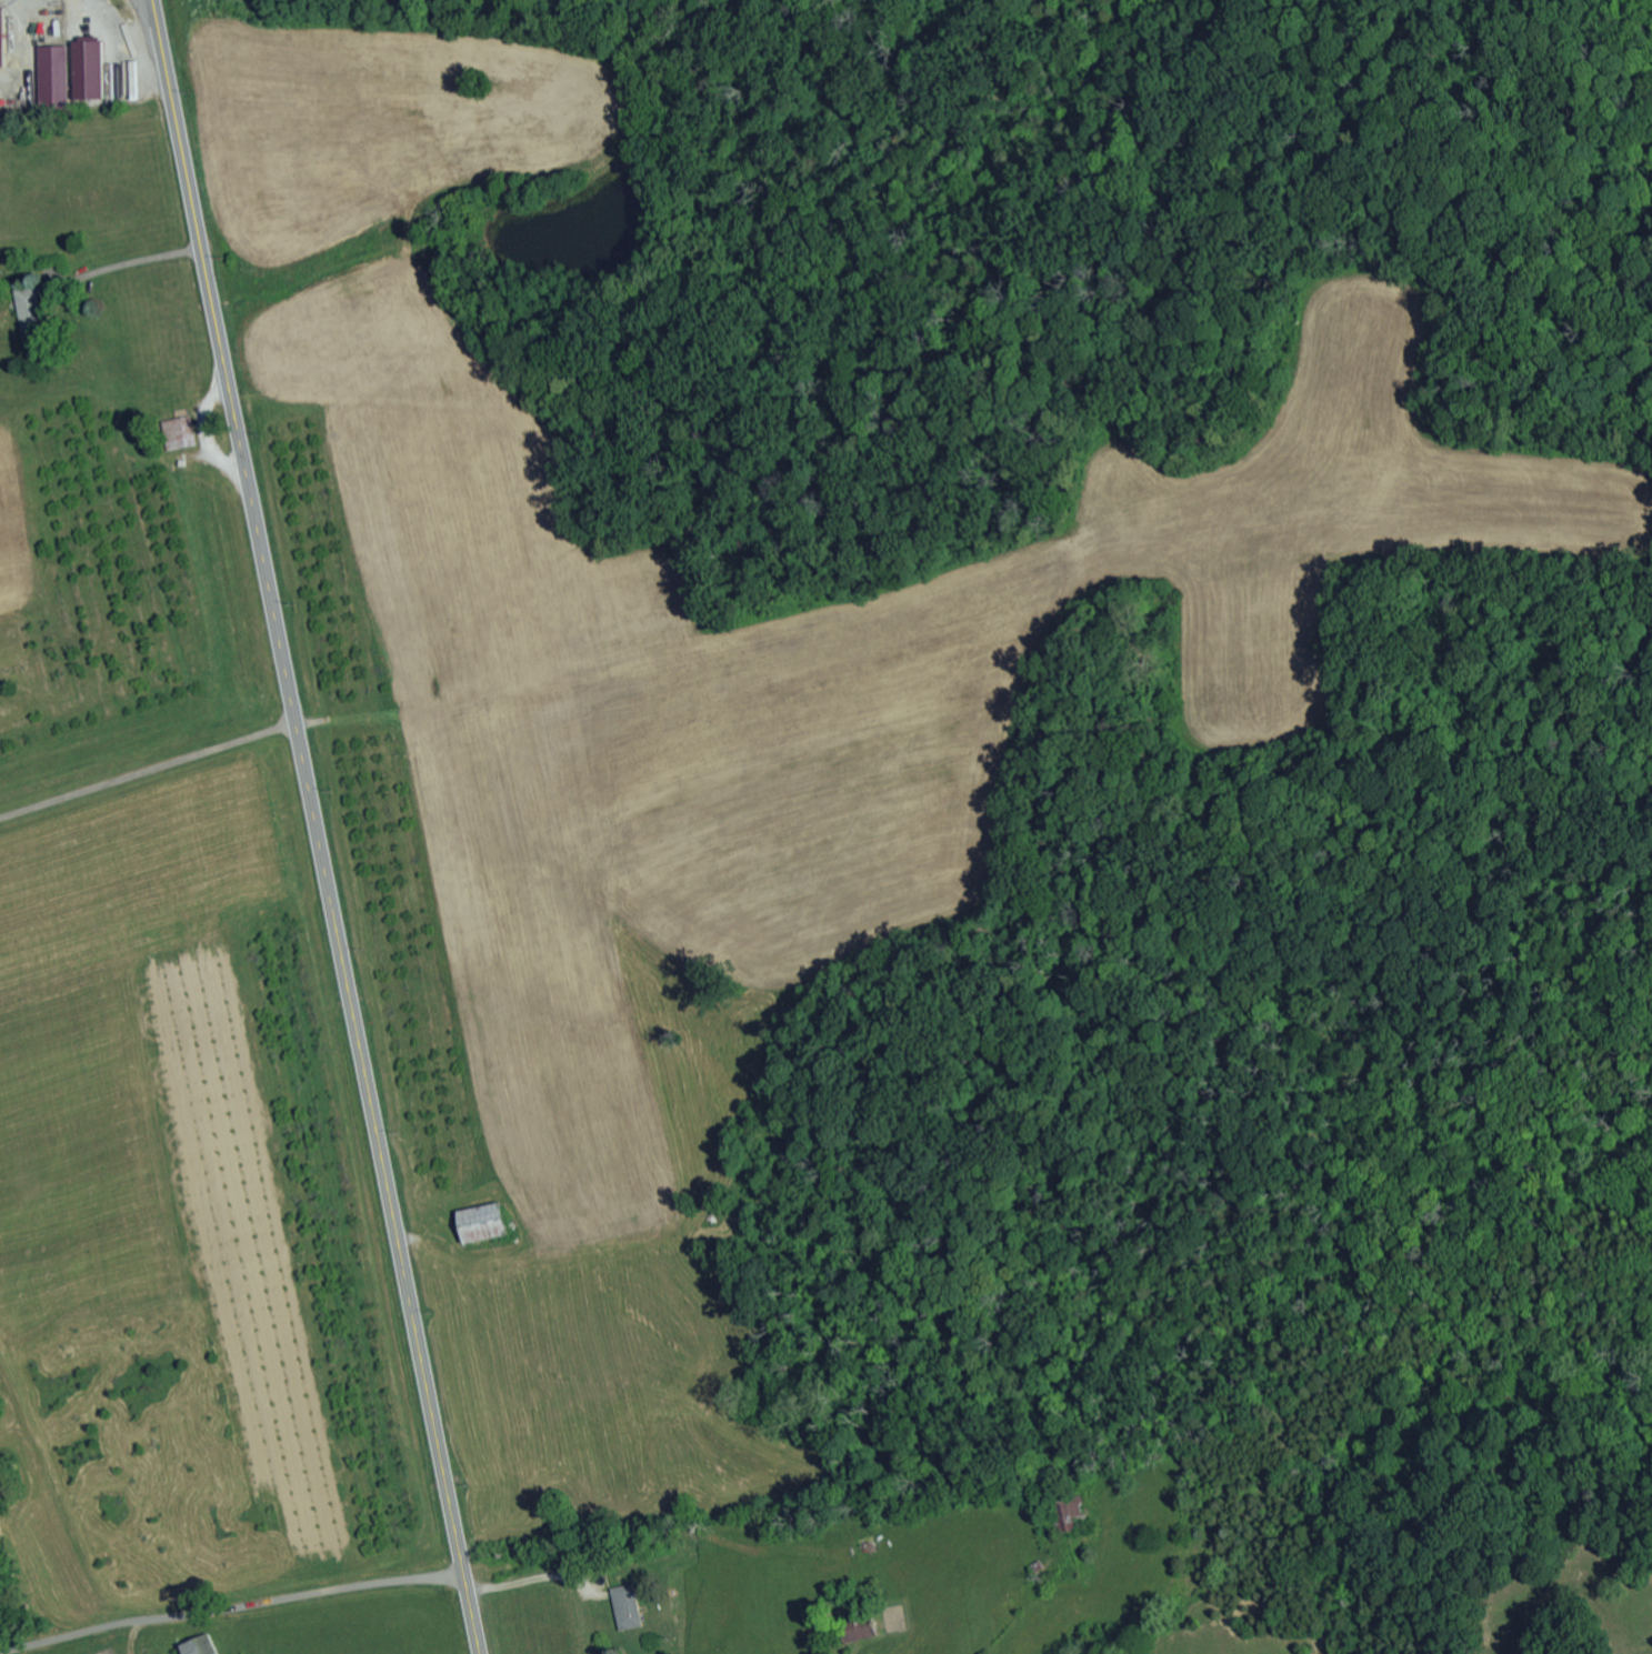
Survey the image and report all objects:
building: (1, 38)
building: (88, 69)
building: (52, 74)
building: (28, 312)
building: (178, 432)
road: (149, 772)
road: (318, 826)
building: (480, 1222)
road: (850, 1511)
building: (1070, 1512)
building: (627, 1606)
road: (232, 1610)
building: (199, 1645)

